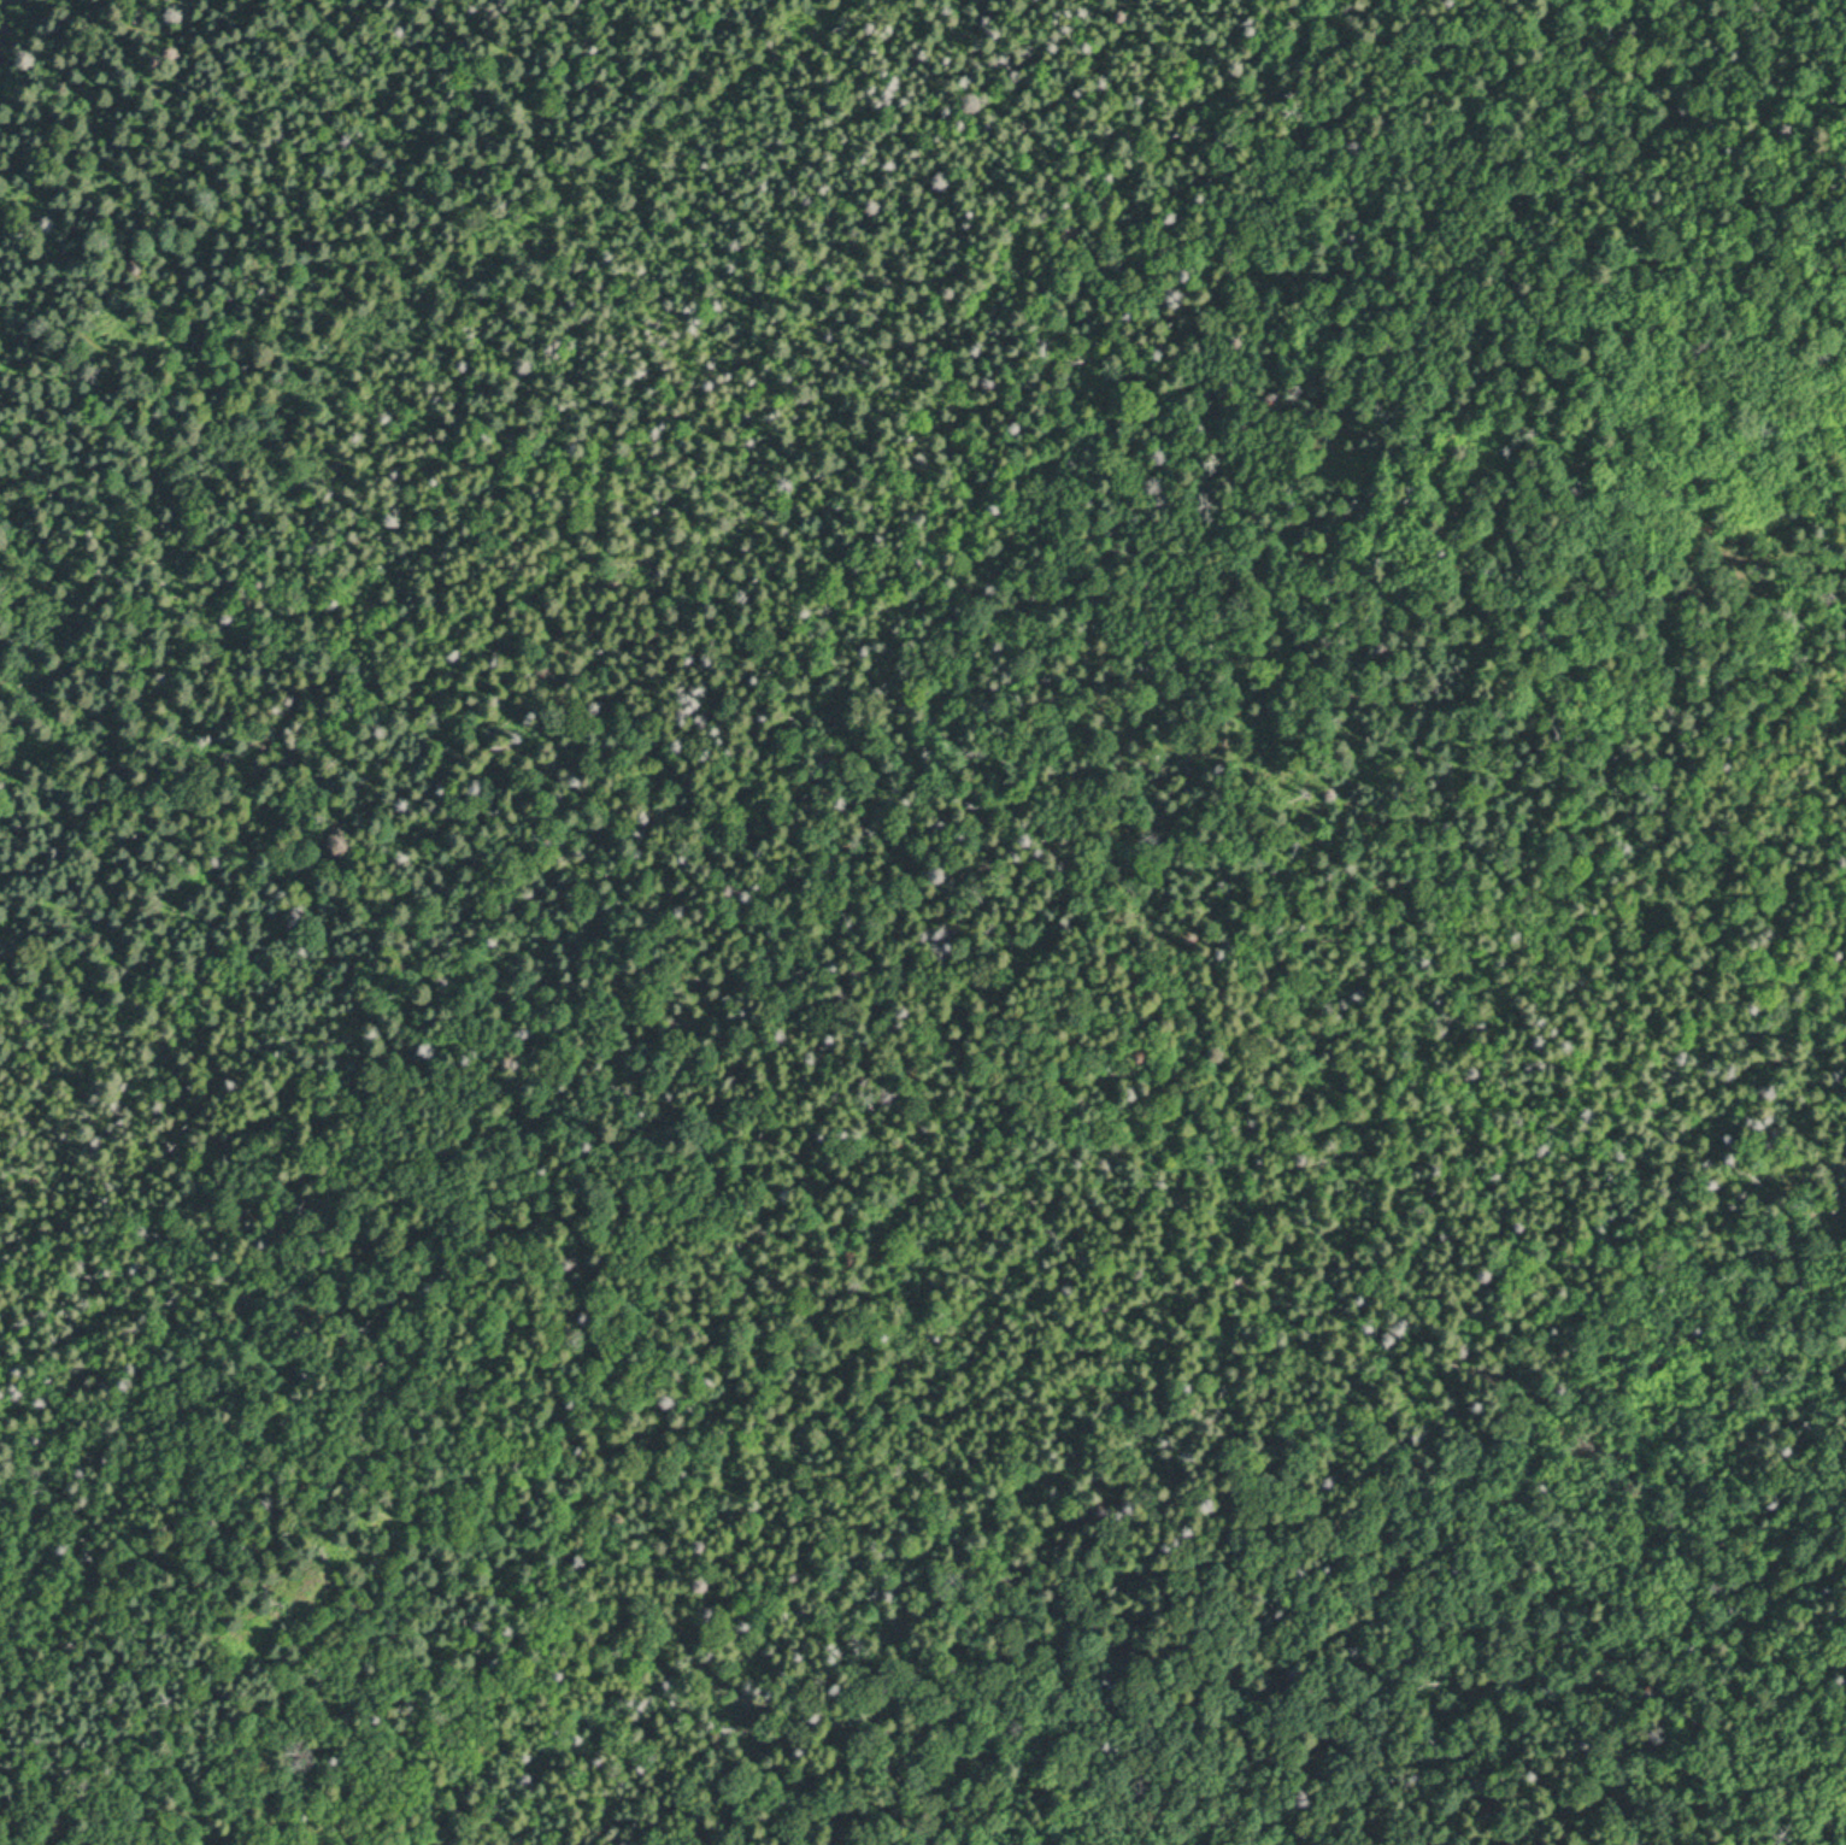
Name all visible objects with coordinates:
road: (65, 298)
road: (369, 1250)
road: (1517, 1718)

